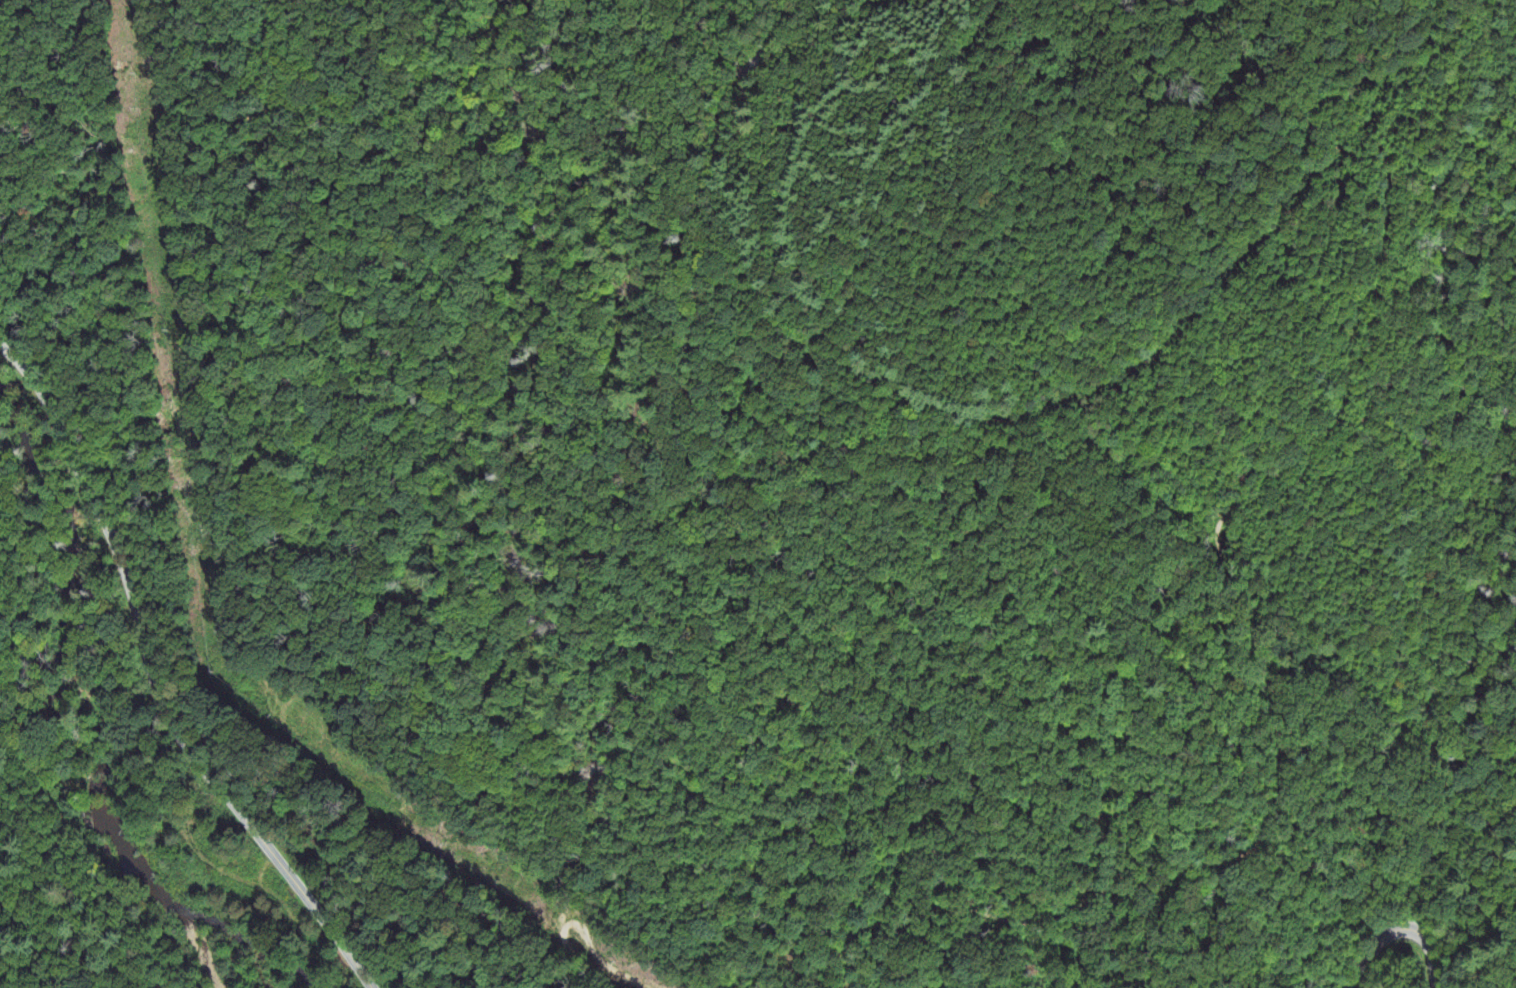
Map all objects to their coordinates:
road: (155, 682)
road: (1400, 930)

